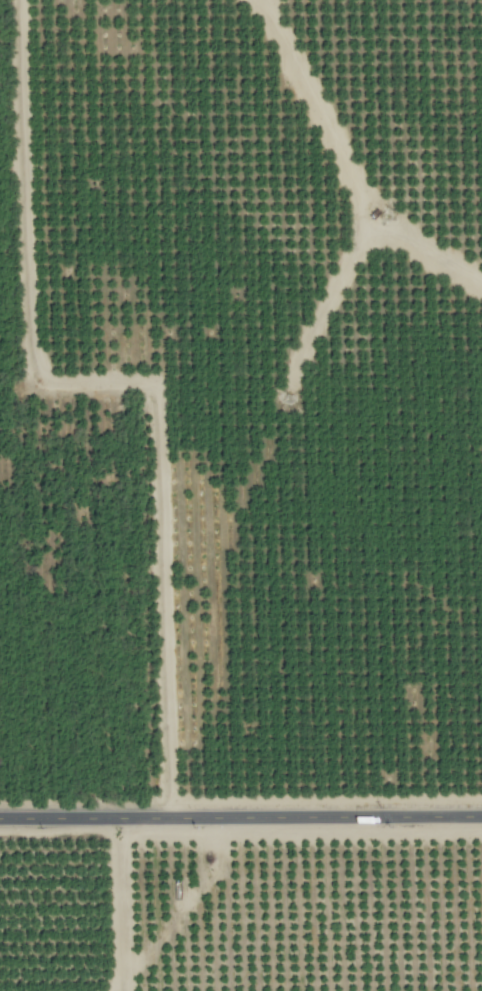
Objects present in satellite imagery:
road: (241, 817)

